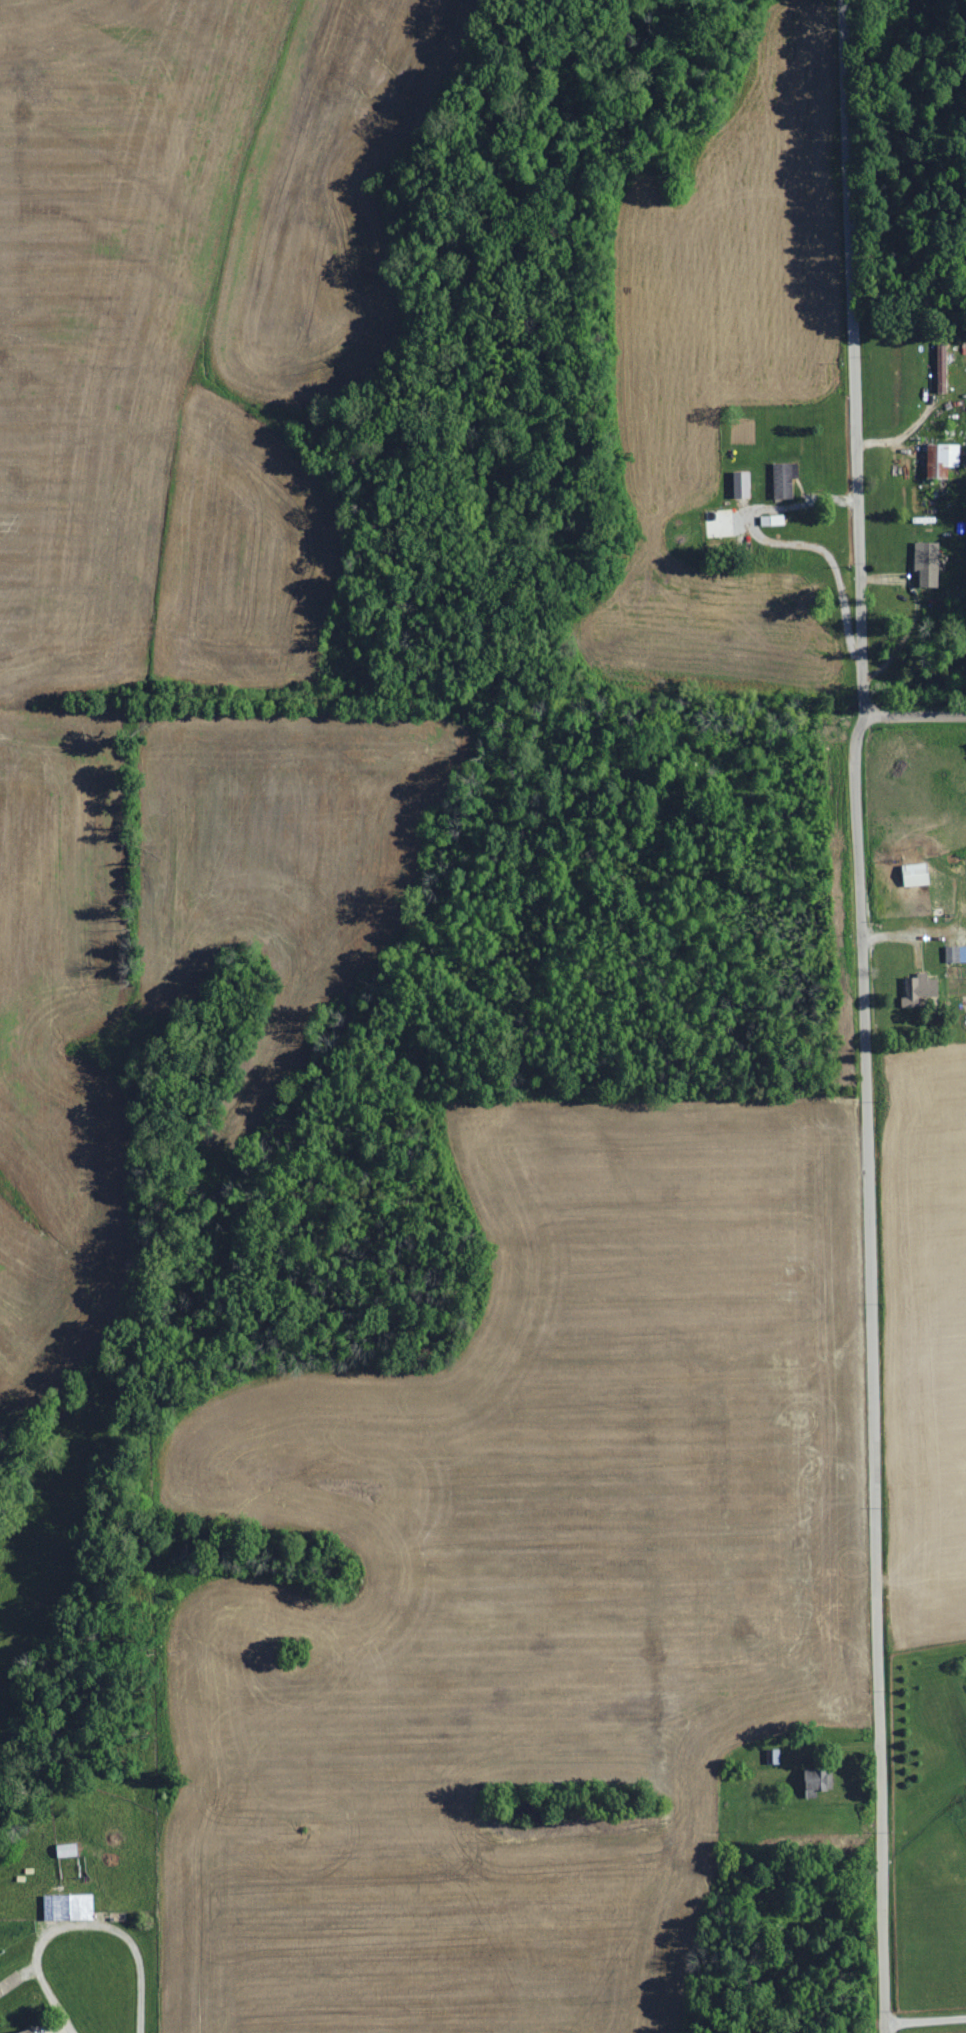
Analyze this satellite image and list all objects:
building: (941, 369)
building: (941, 460)
building: (782, 481)
building: (741, 485)
building: (927, 564)
road: (433, 659)
road: (916, 717)
building: (915, 875)
building: (955, 954)
building: (919, 990)
road: (864, 1016)
building: (818, 1780)
building: (68, 1907)
road: (51, 1993)
road: (926, 2019)
building: (27, 2031)

